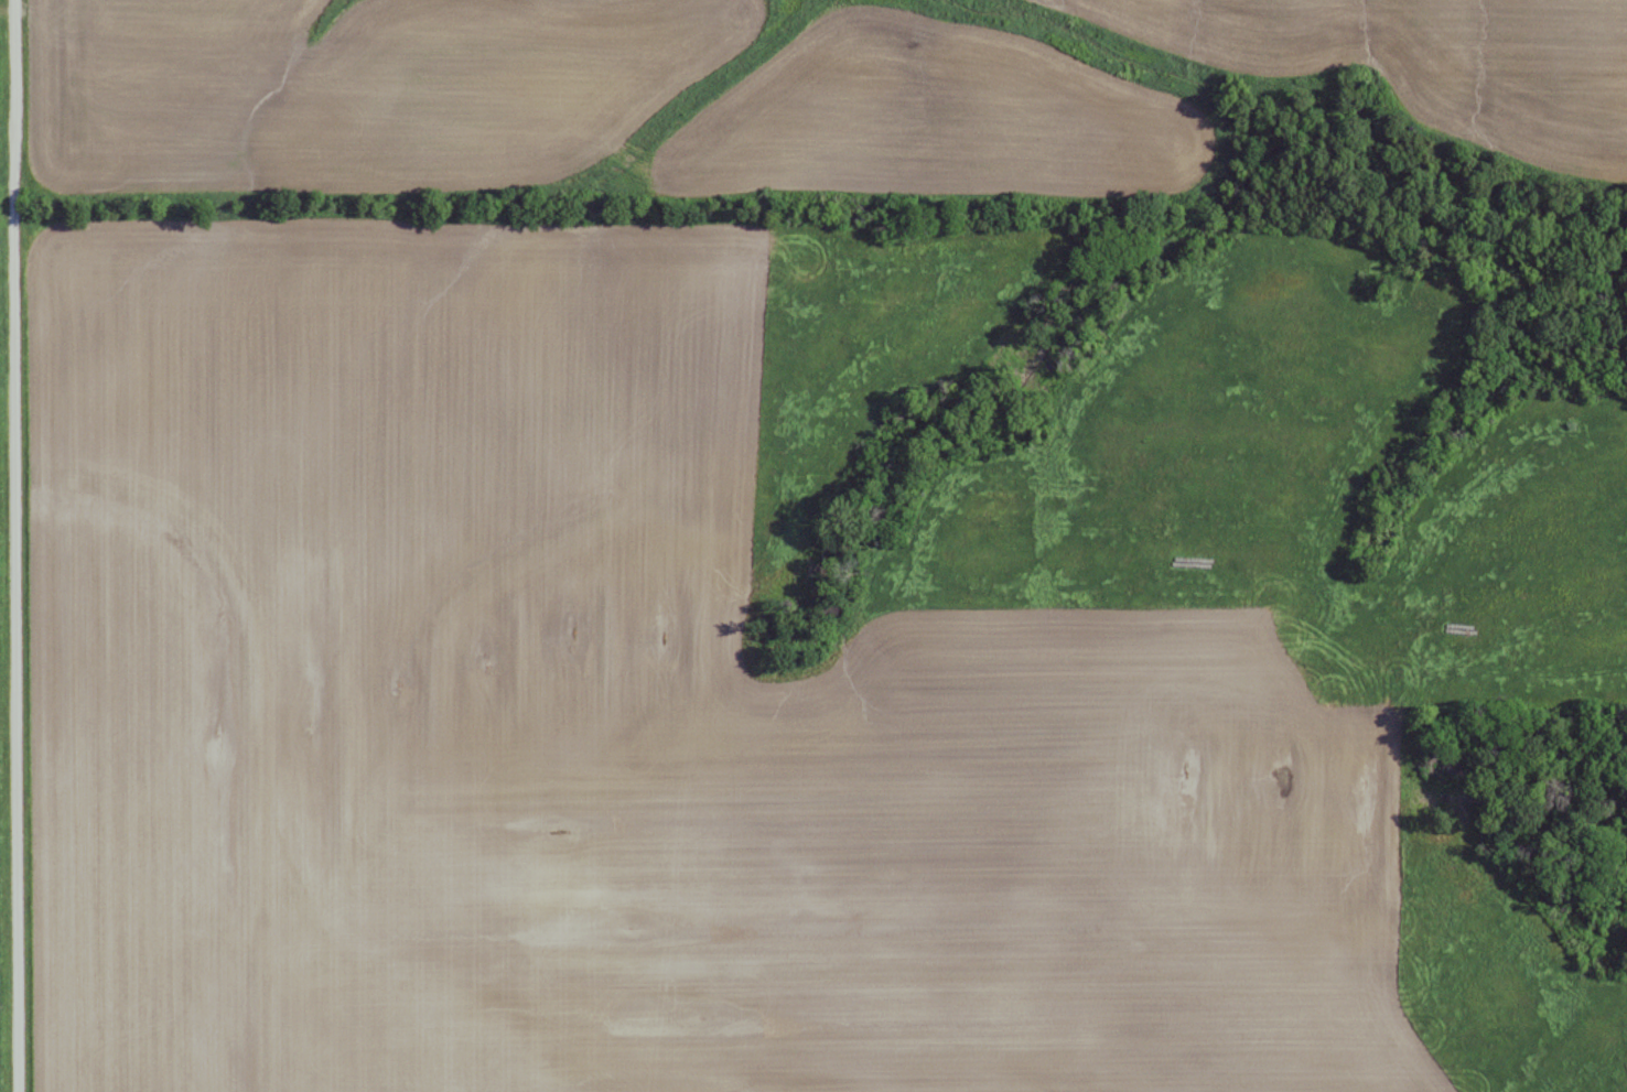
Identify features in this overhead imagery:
road: (15, 545)

